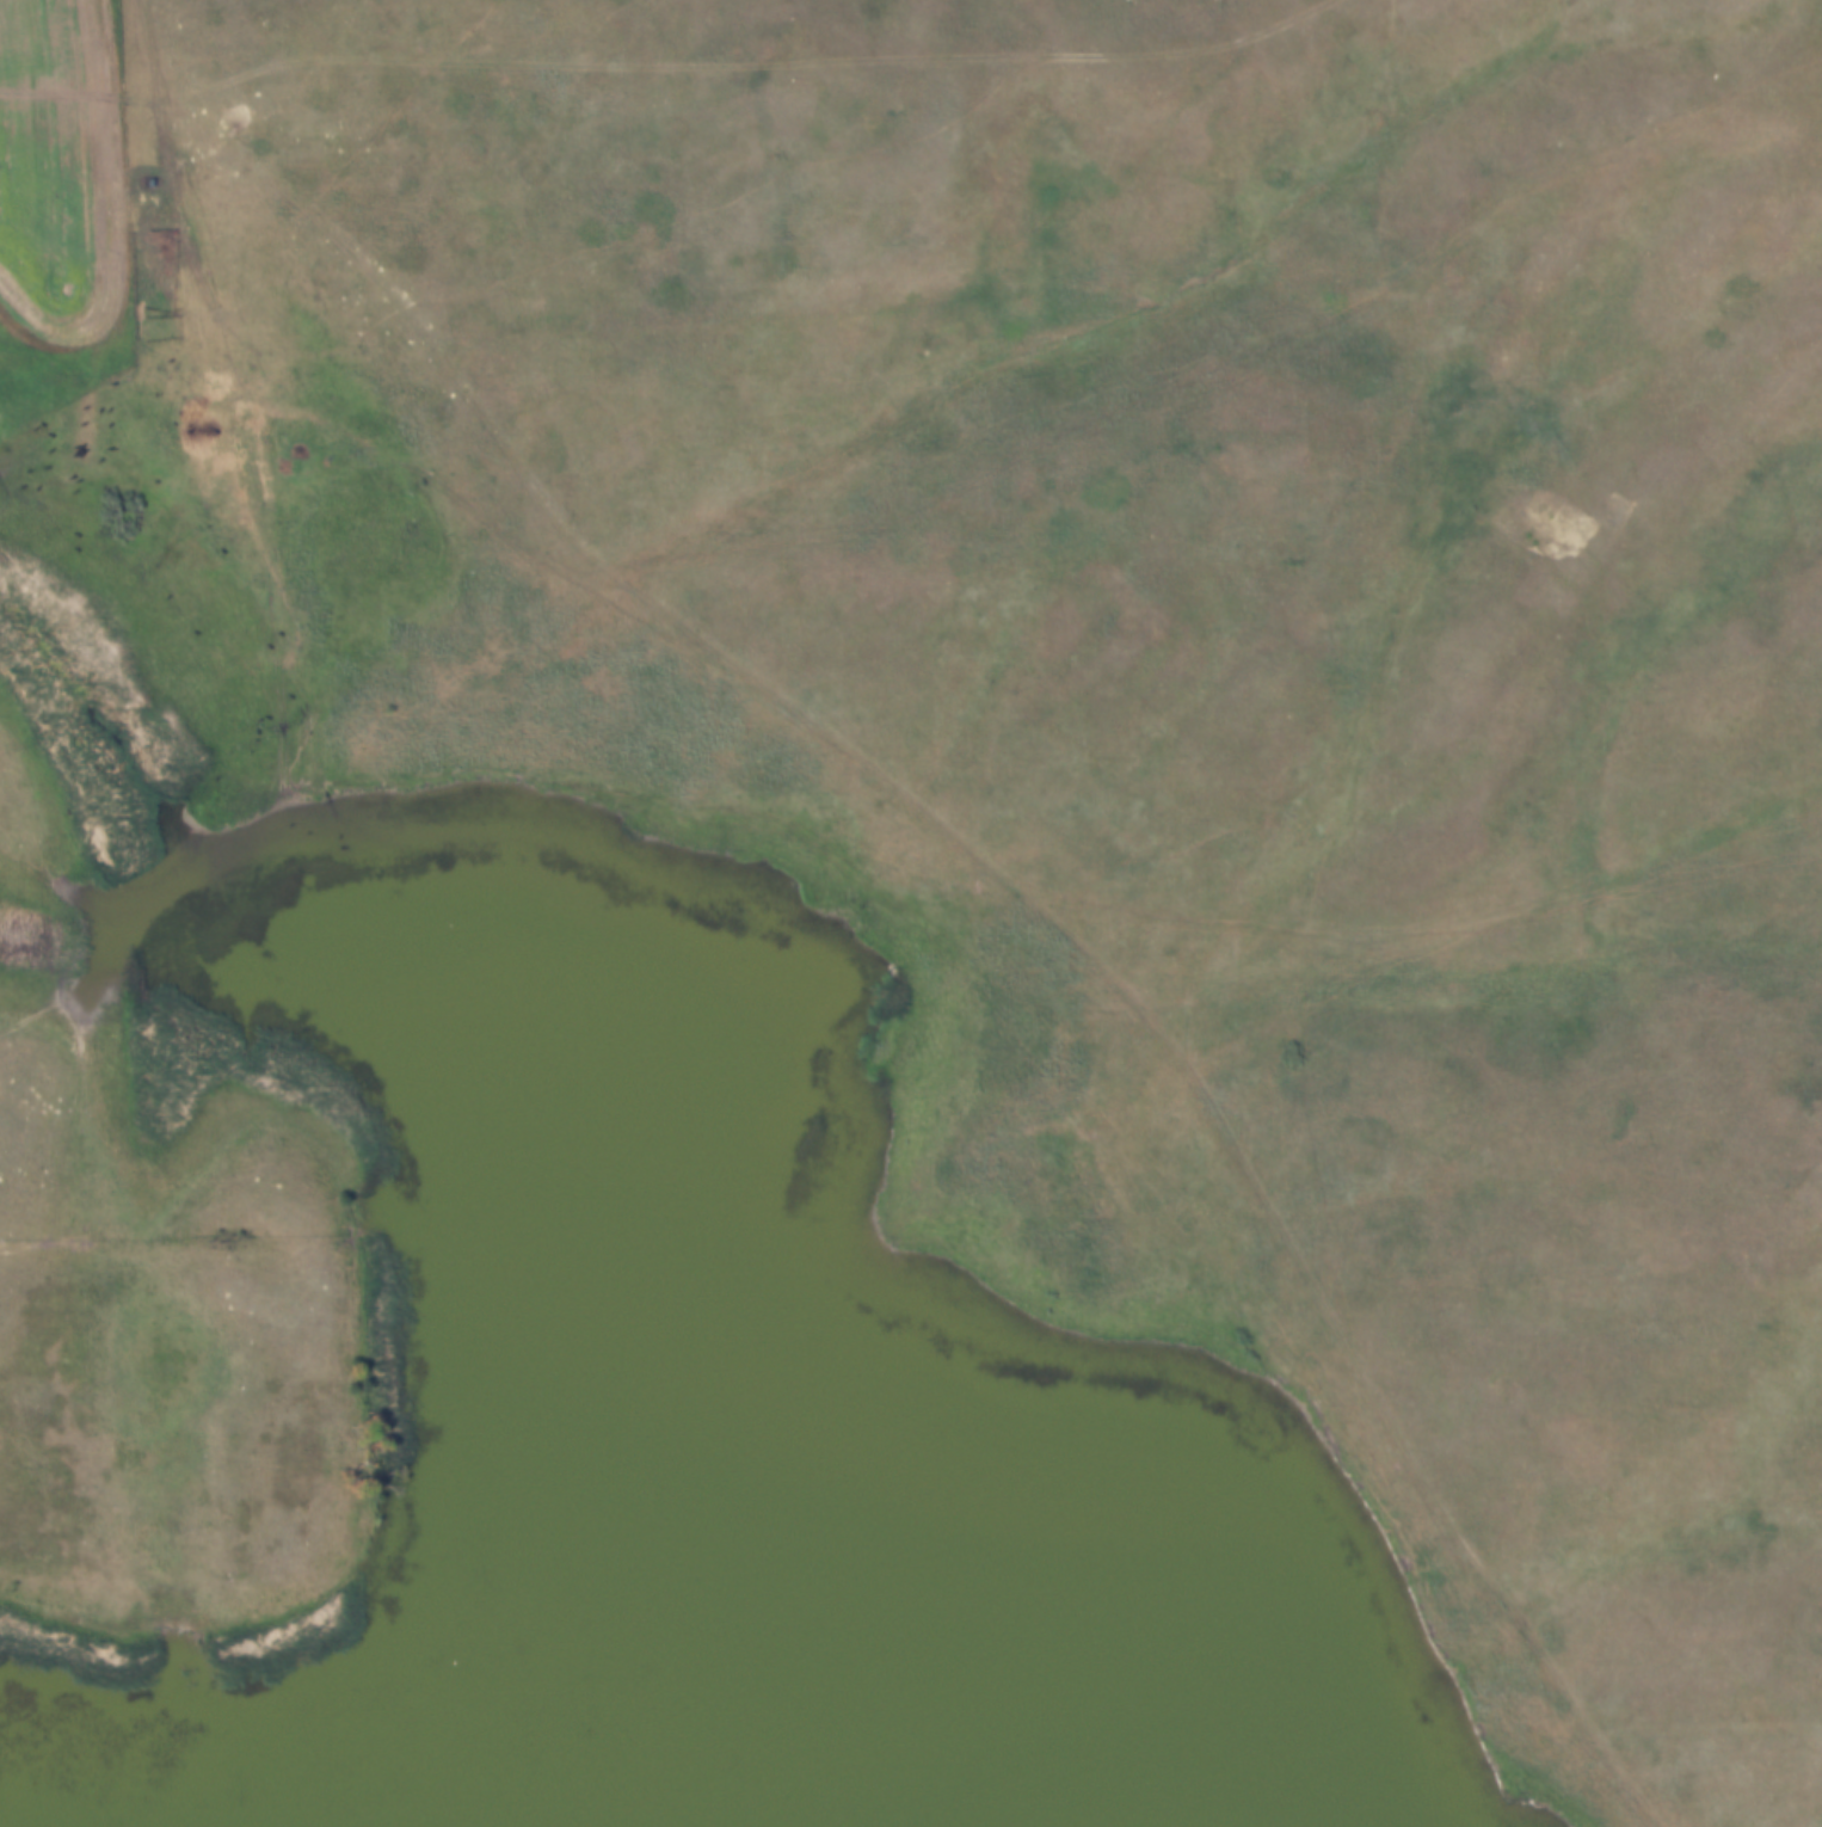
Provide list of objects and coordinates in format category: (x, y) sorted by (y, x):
road: (671, 66)
road: (1011, 879)

